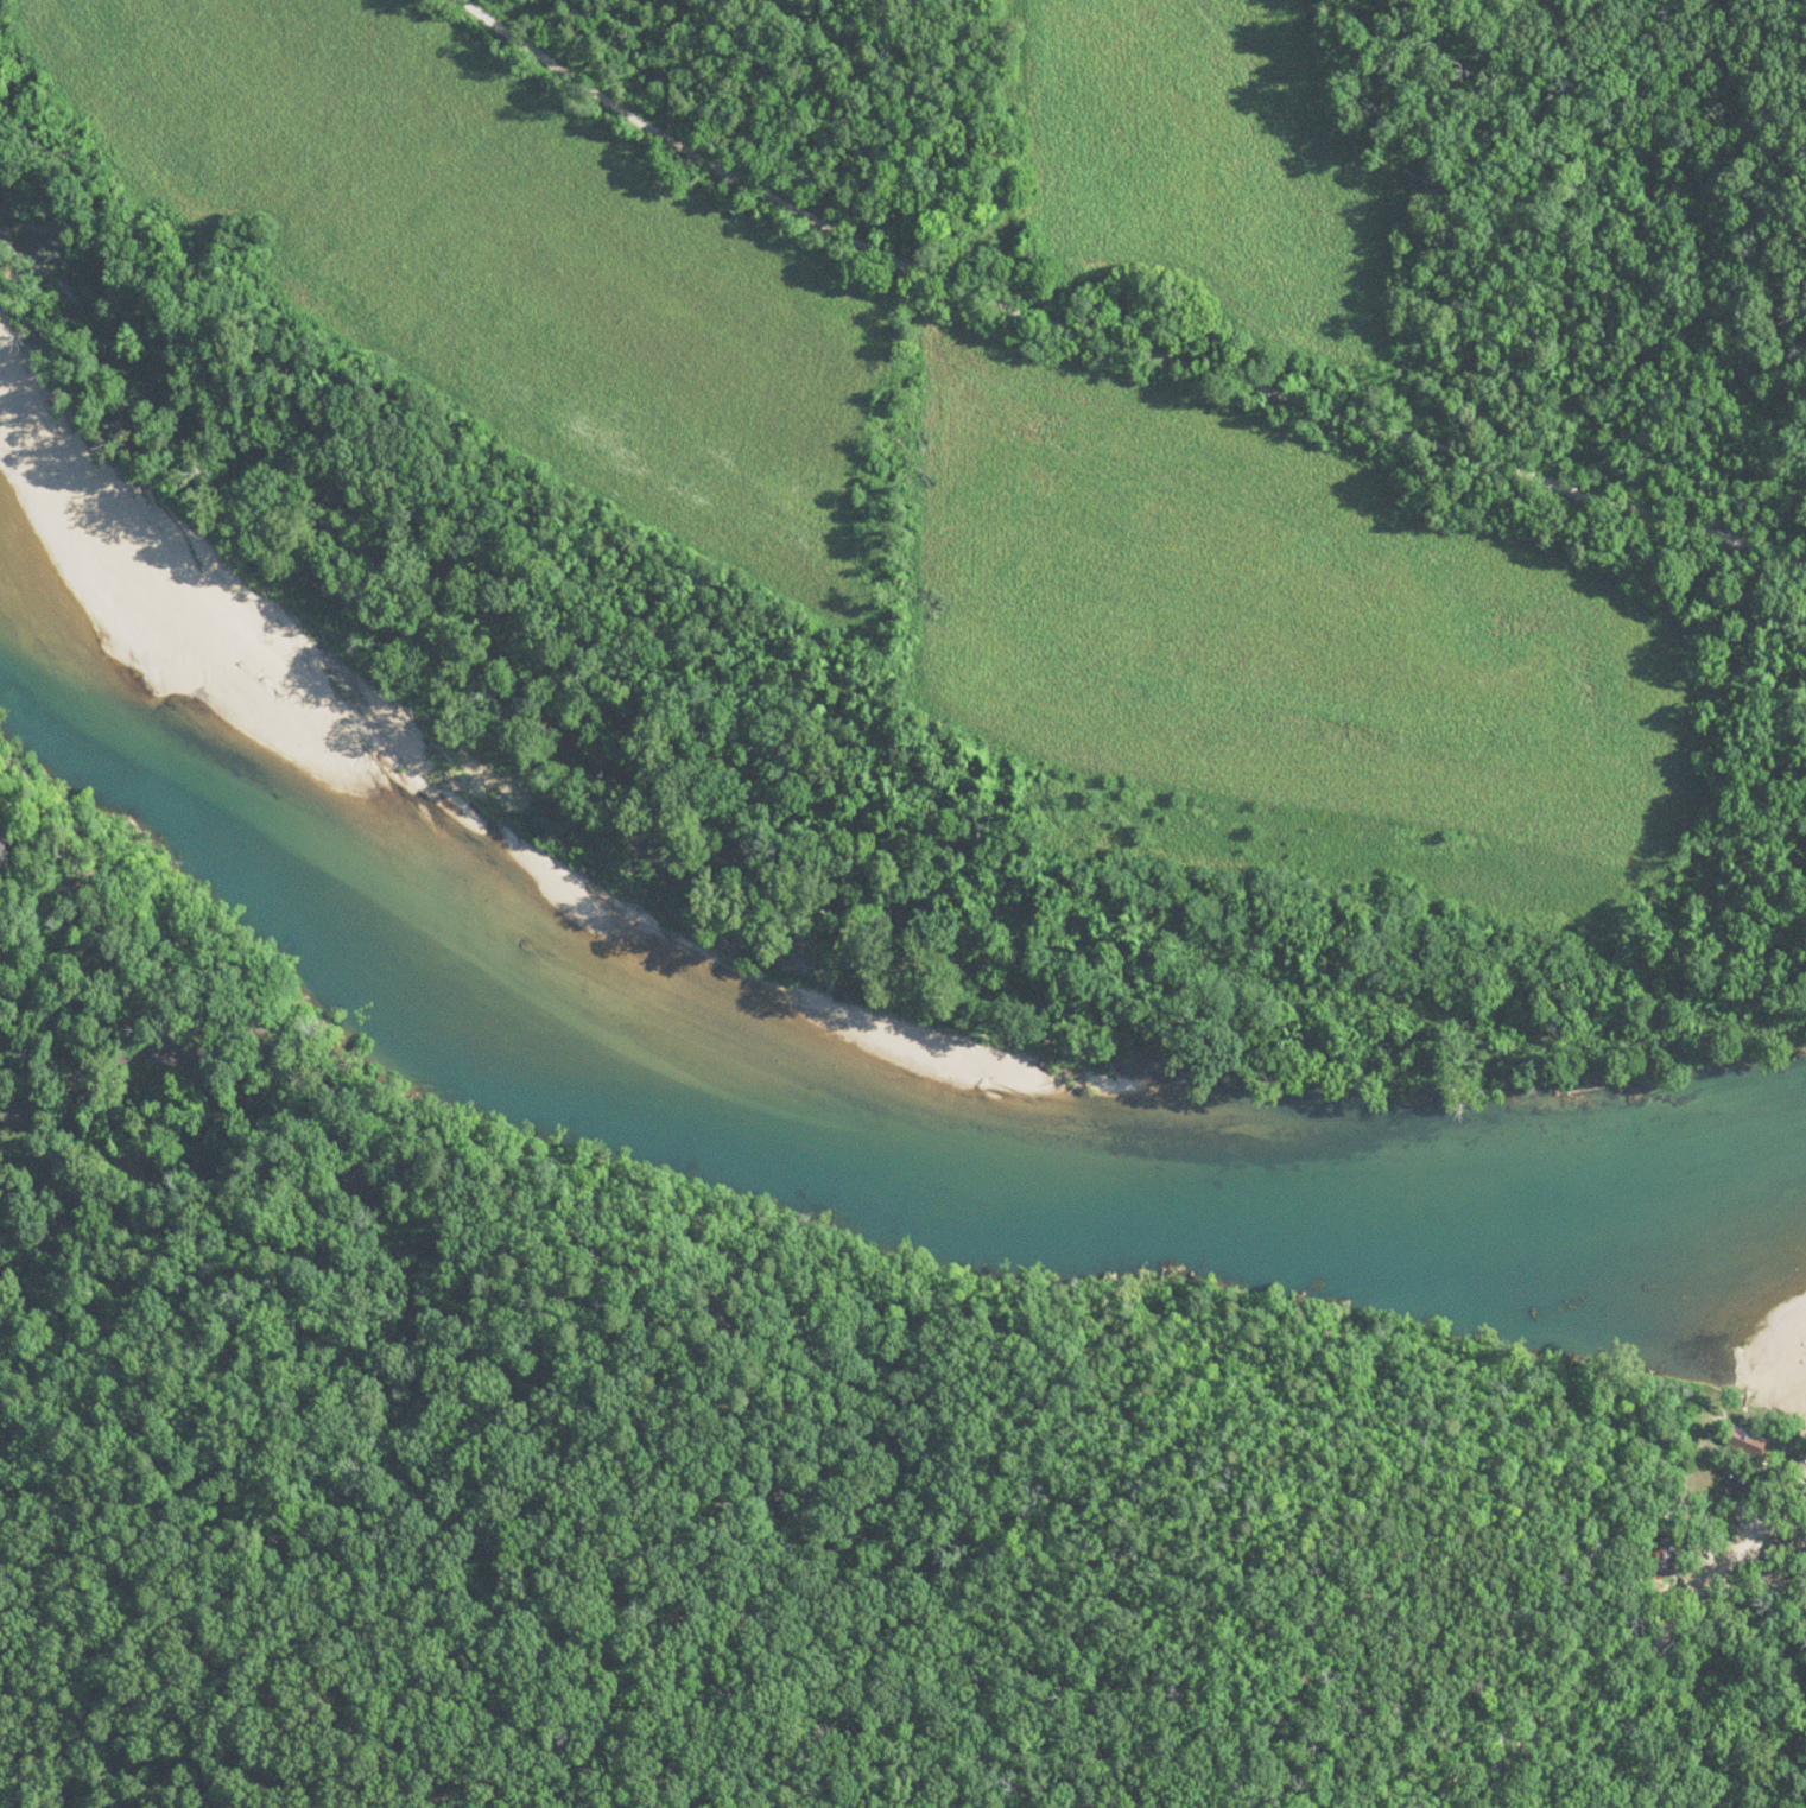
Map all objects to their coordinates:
road: (1124, 312)
river: (51, 673)
road: (245, 1024)
road: (66, 1068)
road: (323, 1073)
river: (822, 1114)
road: (141, 1203)
park: (670, 1344)
road: (1610, 1680)

